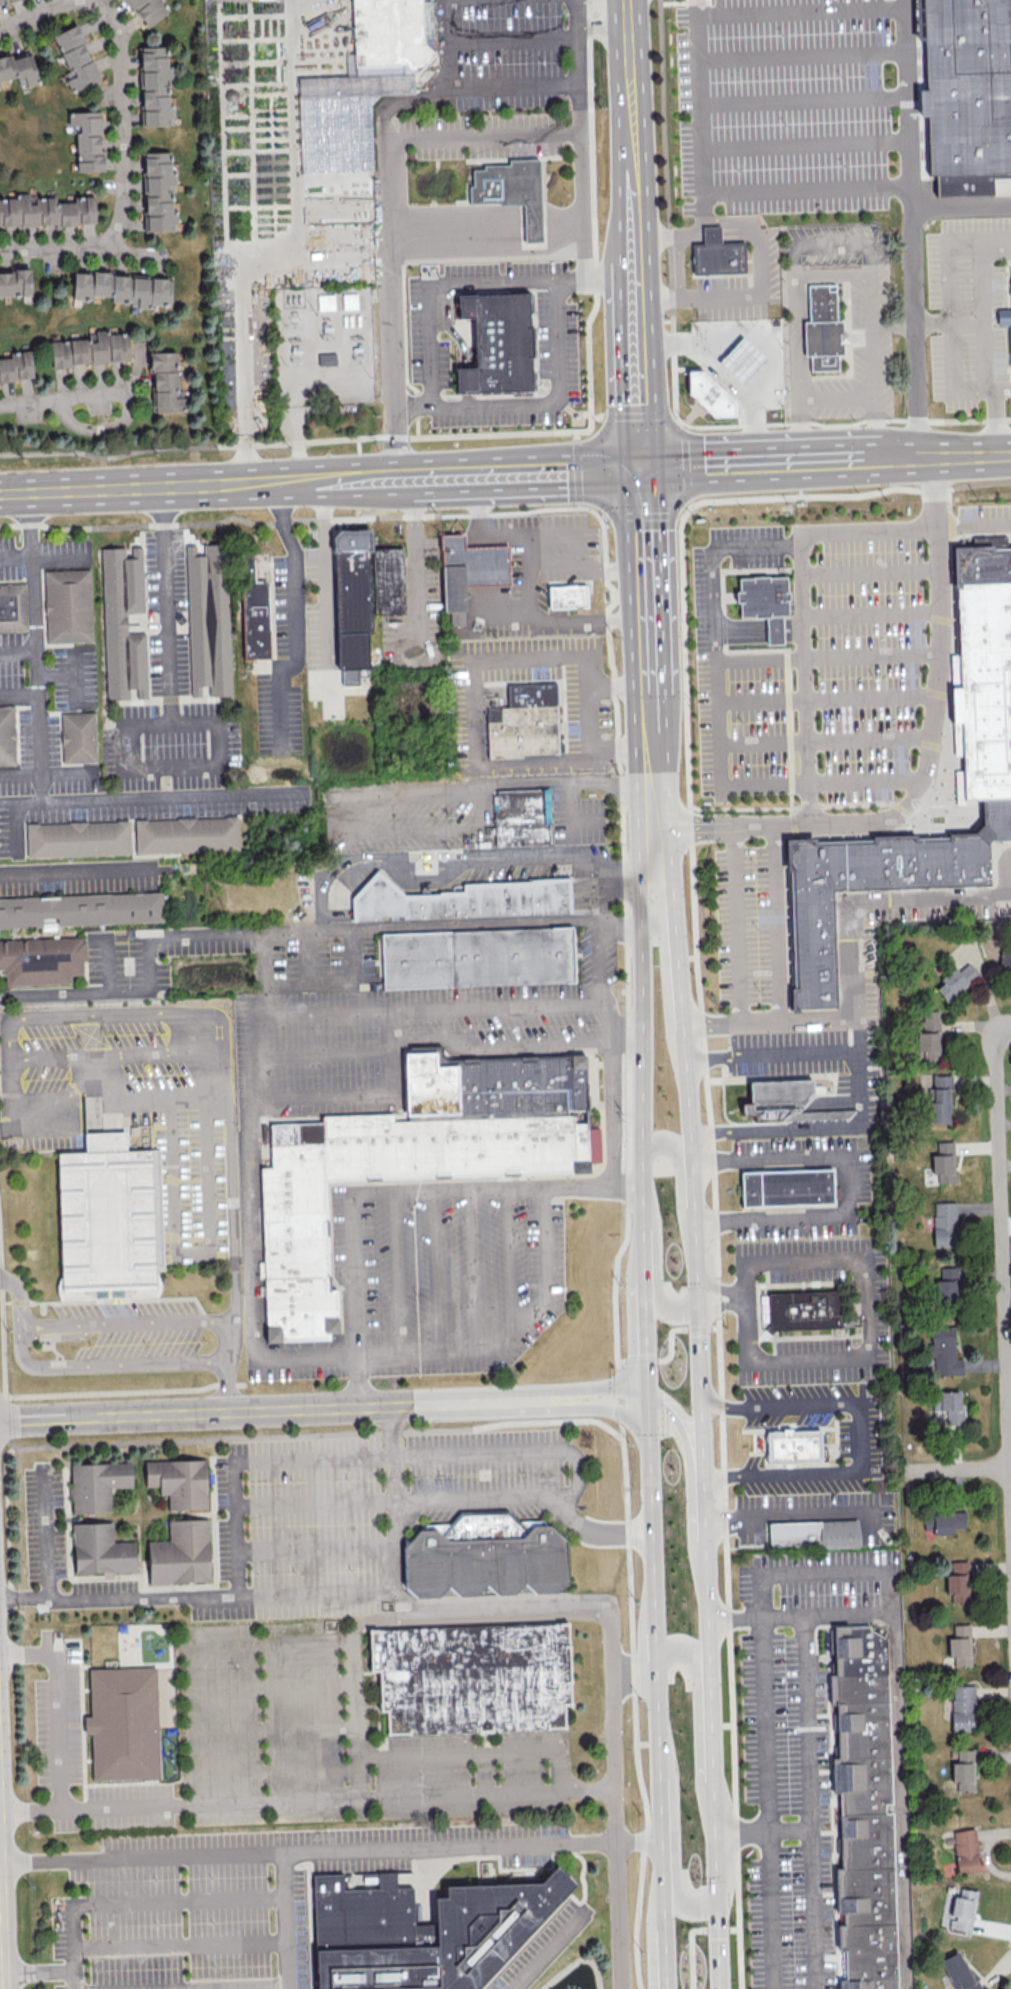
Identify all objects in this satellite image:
building: (0, 0)
building: (4, 0)
road: (22, 7)
building: (149, 9)
road: (801, 13)
road: (603, 15)
road: (286, 36)
road: (513, 37)
road: (802, 55)
building: (76, 58)
building: (19, 68)
building: (363, 83)
road: (511, 84)
building: (154, 86)
building: (0, 89)
building: (965, 93)
road: (804, 100)
parking lot: (786, 108)
road: (699, 111)
road: (484, 135)
building: (87, 140)
road: (632, 140)
road: (806, 146)
road: (134, 182)
road: (807, 190)
building: (158, 191)
building: (513, 193)
road: (961, 202)
building: (45, 211)
road: (667, 213)
road: (593, 214)
road: (389, 218)
road: (912, 228)
road: (563, 230)
road: (533, 232)
road: (457, 233)
building: (712, 235)
road: (757, 237)
road: (996, 240)
road: (832, 244)
building: (720, 259)
road: (680, 267)
road: (612, 280)
road: (570, 281)
building: (15, 282)
building: (122, 287)
road: (660, 299)
building: (325, 301)
road: (639, 314)
road: (950, 314)
road: (984, 314)
building: (1002, 317)
road: (241, 319)
road: (950, 324)
road: (795, 326)
building: (824, 329)
road: (759, 341)
power substation: (324, 346)
building: (497, 346)
building: (90, 349)
building: (327, 360)
building: (743, 360)
gas station: (743, 360)
building: (16, 366)
road: (323, 375)
road: (726, 377)
building: (165, 382)
road: (1000, 386)
building: (711, 396)
road: (554, 400)
road: (56, 401)
road: (642, 408)
road: (637, 415)
road: (673, 415)
road: (596, 416)
road: (995, 420)
road: (847, 423)
road: (877, 427)
road: (799, 430)
road: (575, 436)
road: (294, 442)
road: (297, 444)
road: (357, 445)
road: (965, 455)
road: (861, 458)
road: (684, 462)
road: (724, 464)
traffic signals: (645, 468)
road: (576, 470)
road: (561, 471)
road: (417, 476)
road: (274, 482)
road: (95, 489)
road: (799, 492)
building: (800, 501)
road: (688, 503)
road: (577, 504)
road: (641, 515)
road: (603, 516)
road: (679, 516)
road: (287, 520)
road: (646, 529)
road: (905, 529)
road: (567, 530)
road: (43, 554)
road: (415, 555)
road: (588, 568)
parking lot: (535, 571)
road: (870, 572)
building: (470, 574)
road: (531, 580)
building: (387, 584)
road: (324, 586)
building: (567, 599)
building: (353, 601)
building: (766, 604)
building: (67, 605)
road: (166, 605)
building: (13, 606)
road: (649, 606)
road: (504, 610)
road: (872, 613)
building: (254, 614)
road: (297, 615)
building: (208, 619)
parking lot: (422, 622)
building: (122, 623)
road: (715, 623)
road: (793, 628)
road: (776, 629)
road: (742, 630)
road: (17, 650)
road: (828, 656)
road: (651, 664)
road: (35, 666)
parking lot: (305, 666)
road: (54, 673)
building: (985, 673)
road: (73, 676)
road: (804, 678)
road: (618, 684)
road: (18, 695)
parking lot: (813, 698)
road: (827, 699)
parking lot: (480, 703)
building: (524, 723)
road: (214, 724)
building: (7, 735)
road: (477, 735)
building: (78, 737)
road: (825, 740)
road: (621, 750)
road: (927, 761)
road: (62, 772)
road: (821, 781)
road: (546, 784)
road: (656, 786)
road: (166, 797)
road: (571, 811)
road: (343, 815)
parking lot: (577, 815)
building: (522, 816)
parking lot: (398, 817)
road: (587, 818)
building: (186, 834)
building: (77, 838)
road: (455, 865)
road: (72, 872)
road: (1003, 872)
road: (649, 892)
road: (603, 893)
building: (462, 899)
road: (871, 900)
building: (81, 909)
road: (621, 920)
road: (778, 923)
road: (736, 924)
road: (375, 928)
building: (478, 956)
building: (41, 959)
road: (667, 960)
road: (106, 961)
building: (1005, 962)
parking lot: (317, 967)
road: (600, 978)
building: (954, 981)
road: (97, 987)
road: (393, 1007)
road: (76, 1018)
road: (444, 1021)
road: (766, 1022)
parking lot: (412, 1031)
building: (929, 1036)
road: (498, 1051)
road: (120, 1052)
road: (321, 1052)
parking lot: (808, 1056)
road: (95, 1069)
road: (227, 1070)
road: (705, 1083)
road: (866, 1087)
road: (116, 1091)
road: (364, 1096)
road: (612, 1097)
building: (775, 1097)
building: (938, 1099)
road: (8, 1126)
parking lot: (806, 1155)
building: (943, 1162)
building: (410, 1164)
road: (680, 1168)
road: (846, 1186)
building: (788, 1187)
road: (626, 1189)
road: (377, 1196)
road: (232, 1206)
building: (110, 1220)
building: (944, 1224)
road: (254, 1233)
road: (627, 1238)
road: (191, 1252)
road: (510, 1260)
road: (745, 1260)
road: (657, 1264)
road: (473, 1272)
road: (1003, 1272)
road: (435, 1274)
road: (395, 1276)
parking lot: (434, 1280)
building: (946, 1285)
road: (720, 1289)
road: (22, 1298)
road: (721, 1305)
building: (804, 1310)
parking lot: (876, 1314)
road: (126, 1325)
parking lot: (131, 1333)
road: (507, 1334)
road: (228, 1342)
road: (671, 1346)
building: (944, 1351)
road: (108, 1370)
road: (230, 1389)
road: (67, 1391)
building: (948, 1405)
road: (722, 1407)
road: (323, 1410)
road: (702, 1425)
parking lot: (859, 1441)
road: (860, 1441)
building: (792, 1446)
road: (648, 1454)
road: (368, 1456)
road: (957, 1470)
road: (689, 1473)
road: (720, 1477)
building: (179, 1481)
building: (96, 1484)
road: (314, 1502)
parking lot: (818, 1512)
road: (797, 1514)
building: (943, 1521)
road: (598, 1529)
building: (793, 1533)
building: (838, 1533)
road: (43, 1537)
building: (99, 1547)
road: (316, 1547)
building: (180, 1553)
building: (483, 1554)
road: (826, 1571)
building: (958, 1581)
road: (118, 1598)
road: (516, 1617)
road: (827, 1617)
road: (734, 1620)
parking lot: (346, 1637)
building: (960, 1645)
road: (220, 1659)
road: (359, 1661)
building: (475, 1678)
road: (633, 1678)
road: (290, 1684)
road: (57, 1703)
building: (962, 1708)
road: (697, 1710)
building: (122, 1722)
road: (764, 1726)
road: (292, 1727)
parking lot: (796, 1745)
road: (481, 1748)
building: (963, 1770)
road: (293, 1774)
road: (488, 1796)
road: (613, 1801)
road: (901, 1801)
road: (811, 1803)
road: (94, 1808)
building: (863, 1809)
road: (790, 1831)
road: (741, 1832)
road: (673, 1846)
road: (307, 1851)
building: (965, 1851)
parking lot: (237, 1898)
traffic signals: (717, 1898)
road: (144, 1900)
road: (769, 1910)
building: (962, 1910)
road: (285, 1920)
road: (1, 1925)
building: (422, 1931)
road: (692, 1935)
road: (180, 1944)
parking lot: (540, 1947)
road: (547, 1949)
road: (38, 1971)
building: (958, 1971)
road: (74, 1979)
road: (234, 1987)

